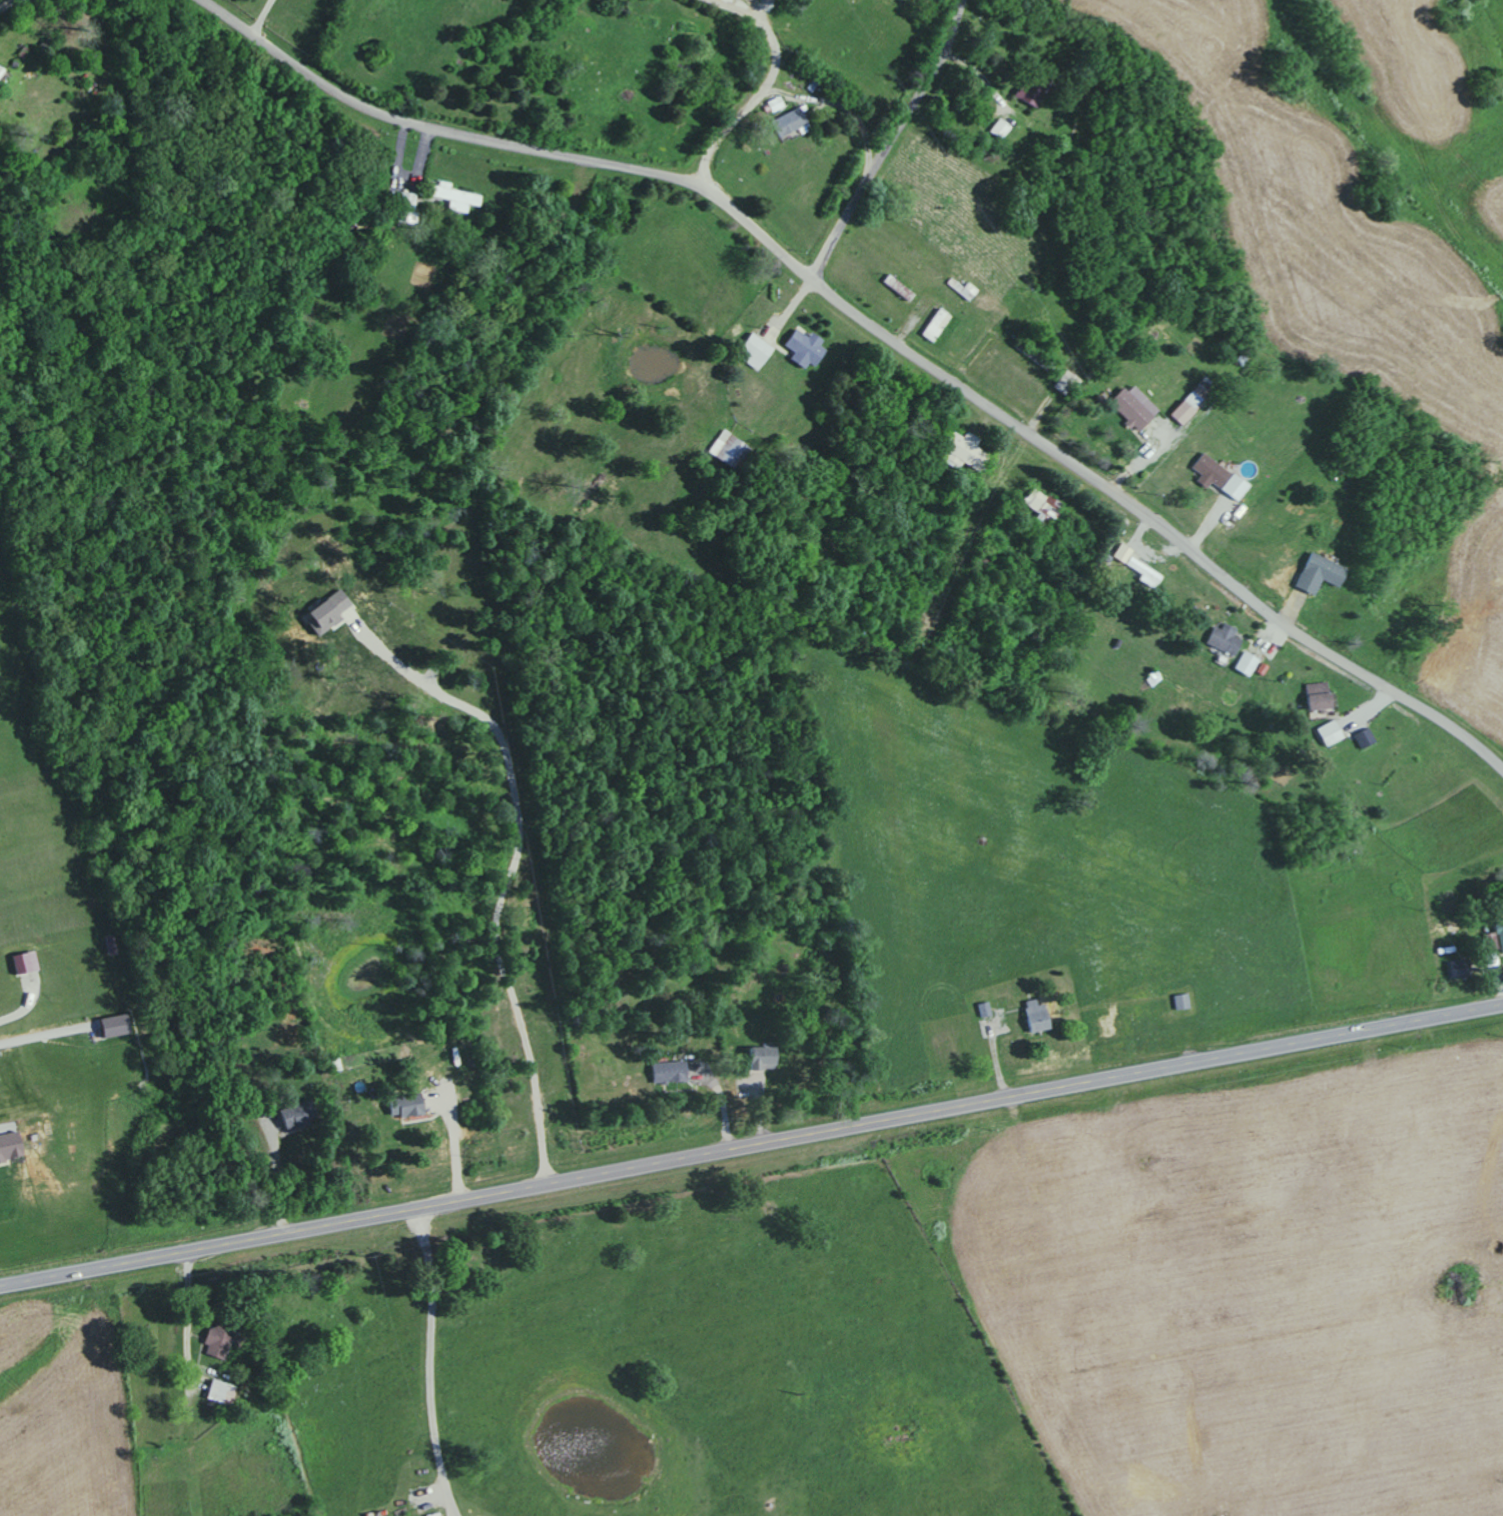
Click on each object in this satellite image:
road: (10, 5)
road: (258, 17)
road: (759, 85)
building: (1028, 92)
road: (848, 107)
building: (790, 123)
building: (999, 129)
road: (453, 135)
road: (892, 143)
building: (453, 196)
building: (407, 202)
building: (962, 288)
building: (935, 324)
building: (803, 347)
building: (753, 350)
building: (1188, 404)
building: (1132, 406)
building: (963, 448)
building: (726, 449)
building: (1218, 477)
road: (1115, 494)
building: (1042, 505)
building: (1123, 553)
building: (1145, 571)
building: (1317, 573)
building: (324, 612)
building: (1223, 638)
building: (1246, 664)
building: (1316, 696)
building: (1329, 733)
building: (1364, 737)
road: (506, 879)
building: (1494, 945)
building: (22, 962)
building: (1035, 1016)
building: (110, 1026)
building: (666, 1073)
building: (401, 1107)
road: (455, 1140)
road: (751, 1146)
building: (9, 1147)
road: (274, 1172)
building: (217, 1342)
road: (431, 1362)
building: (215, 1391)

